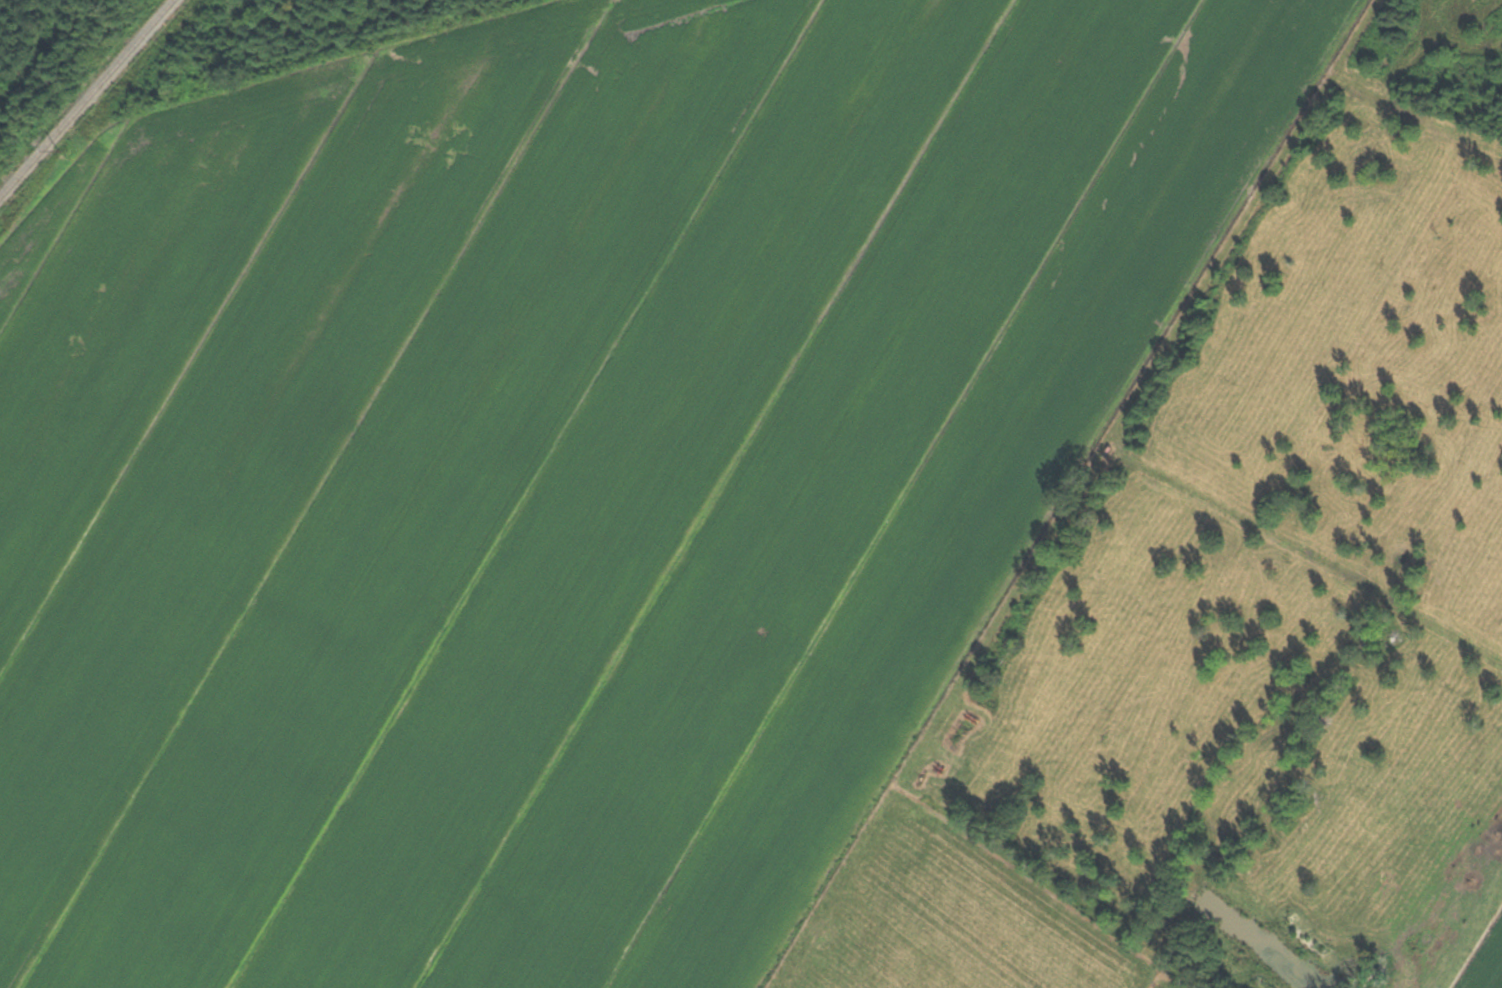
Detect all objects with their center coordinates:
road: (470, 57)
railway: (88, 100)
power tower: (63, 148)

